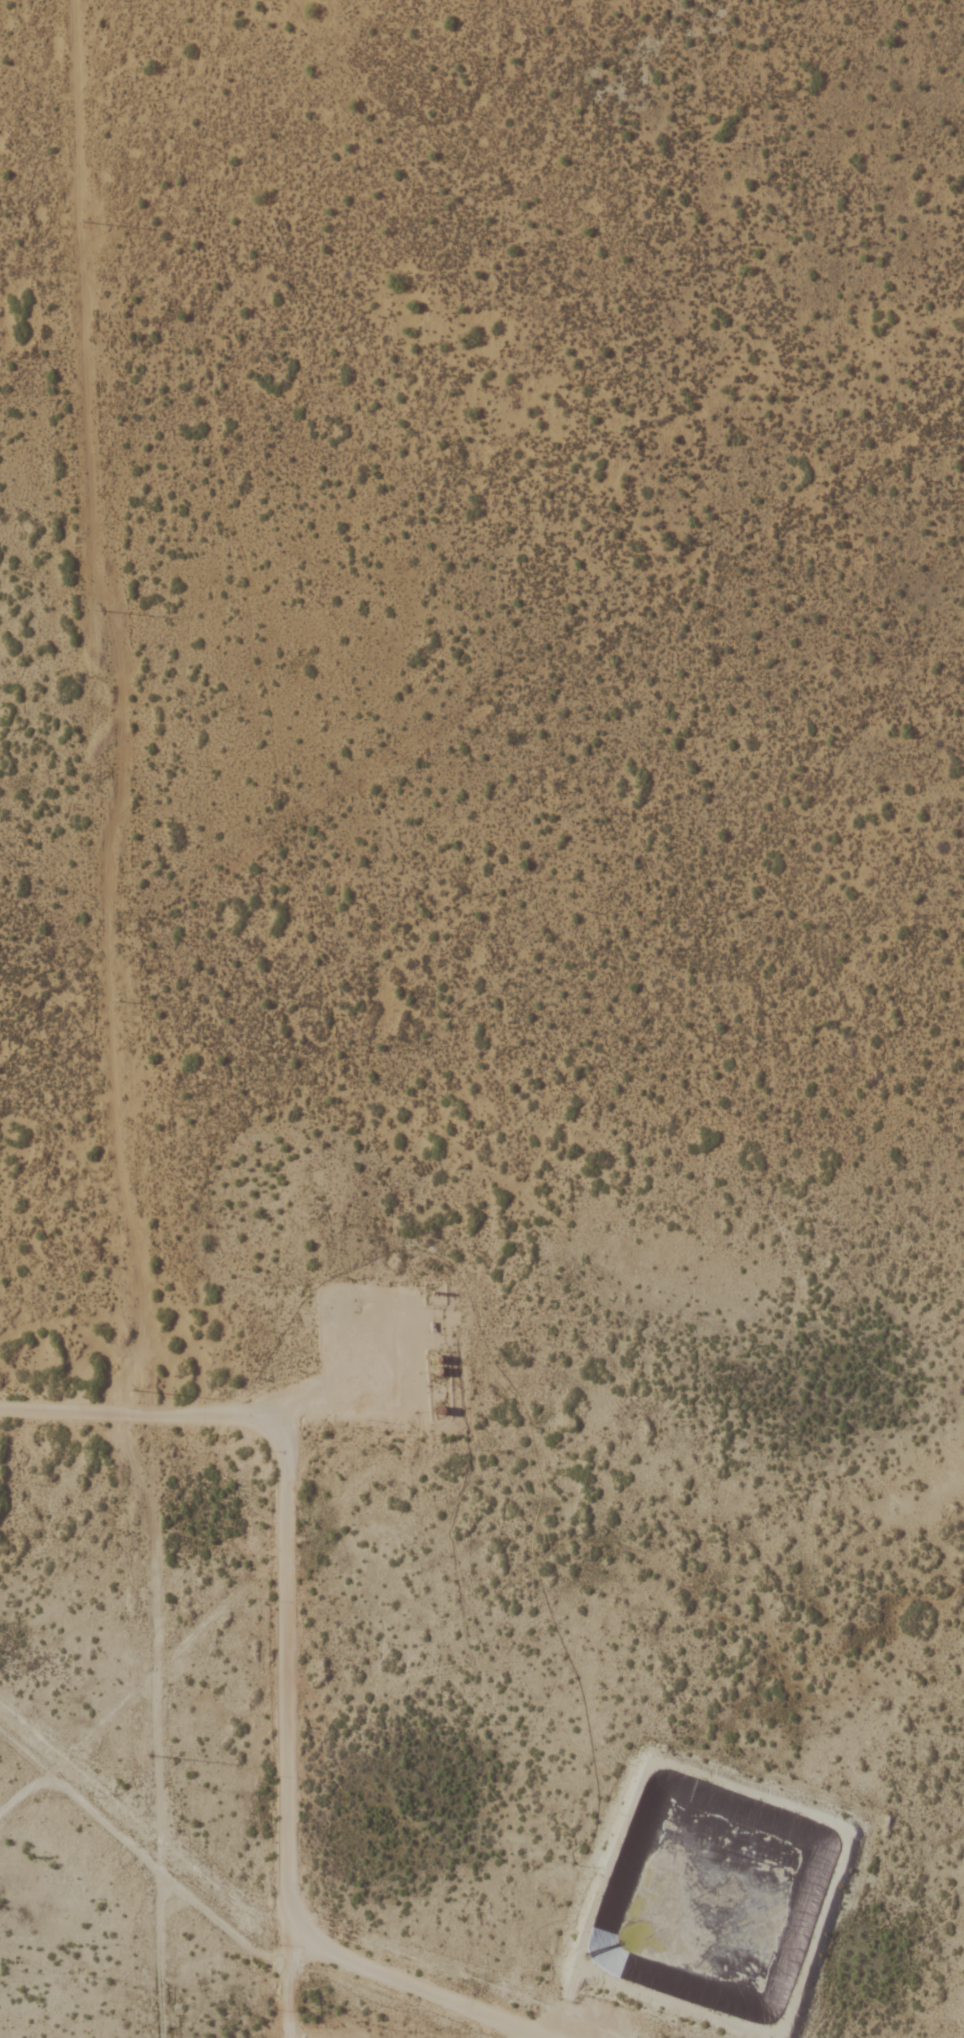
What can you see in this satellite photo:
petroleum well: (356, 1312)
road: (364, 1362)
road: (287, 1661)

